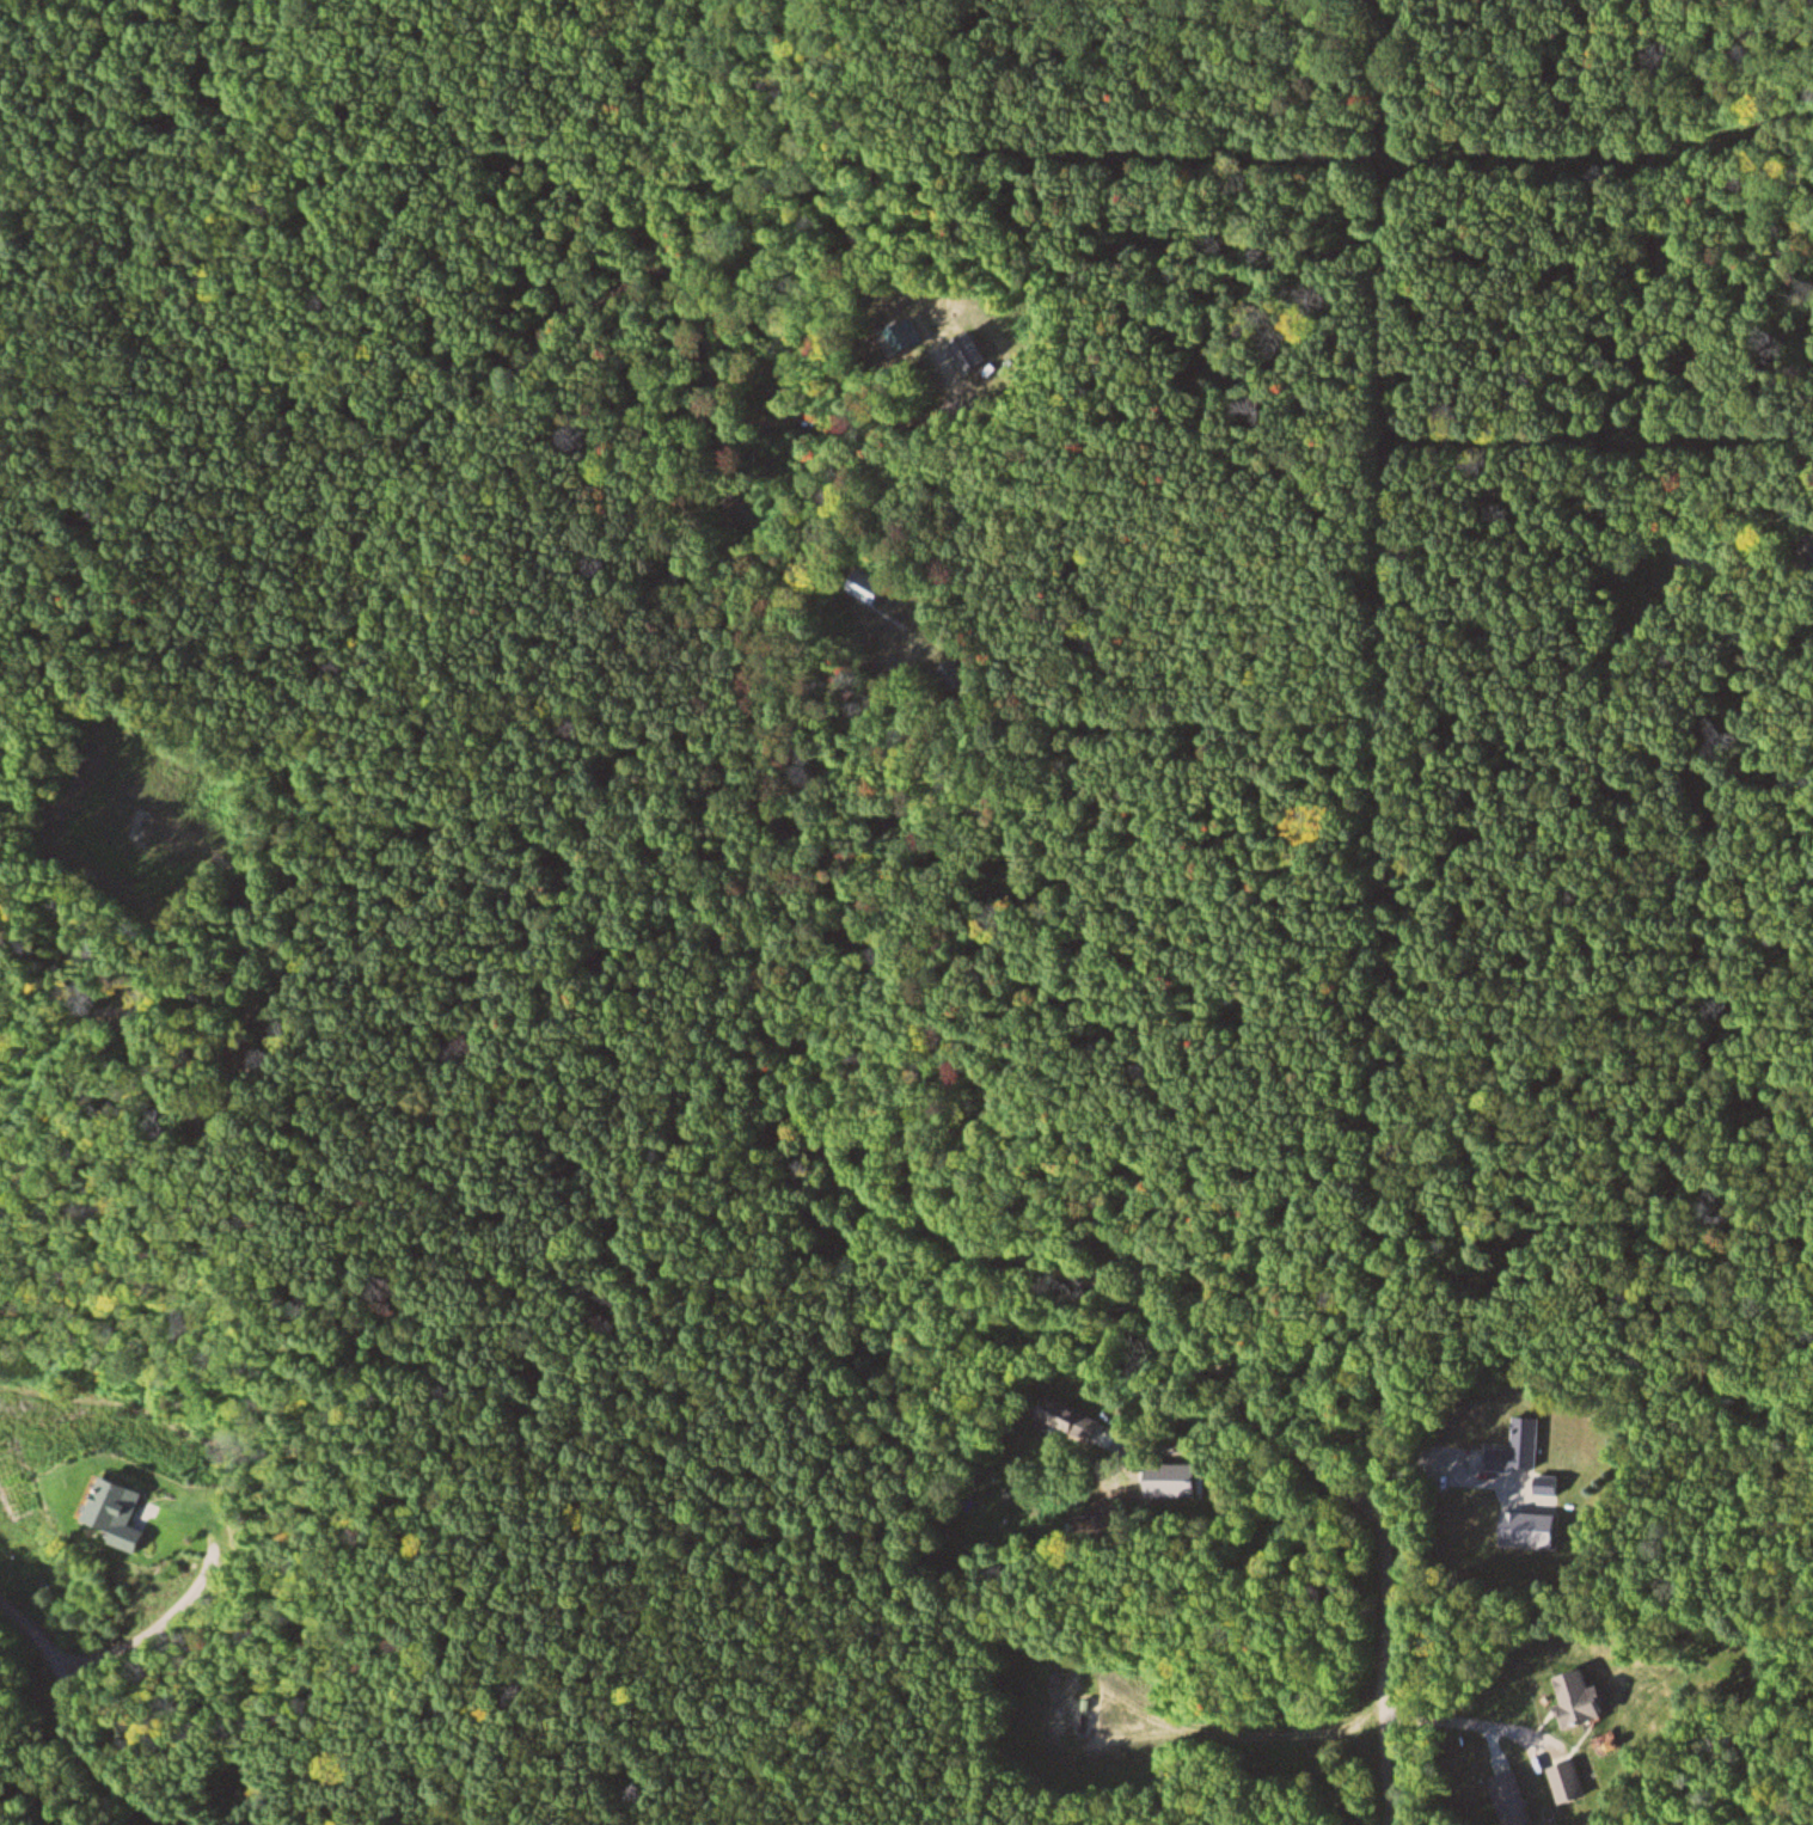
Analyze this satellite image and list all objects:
road: (1660, 258)
road: (704, 311)
building: (917, 331)
building: (973, 350)
road: (387, 574)
building: (877, 587)
road: (973, 1248)
building: (1062, 1410)
building: (1524, 1445)
building: (130, 1511)
building: (1586, 1696)
road: (90, 1713)
petroleum well: (1082, 1714)
road: (1098, 1746)
building: (1573, 1780)
building: (1515, 1798)

